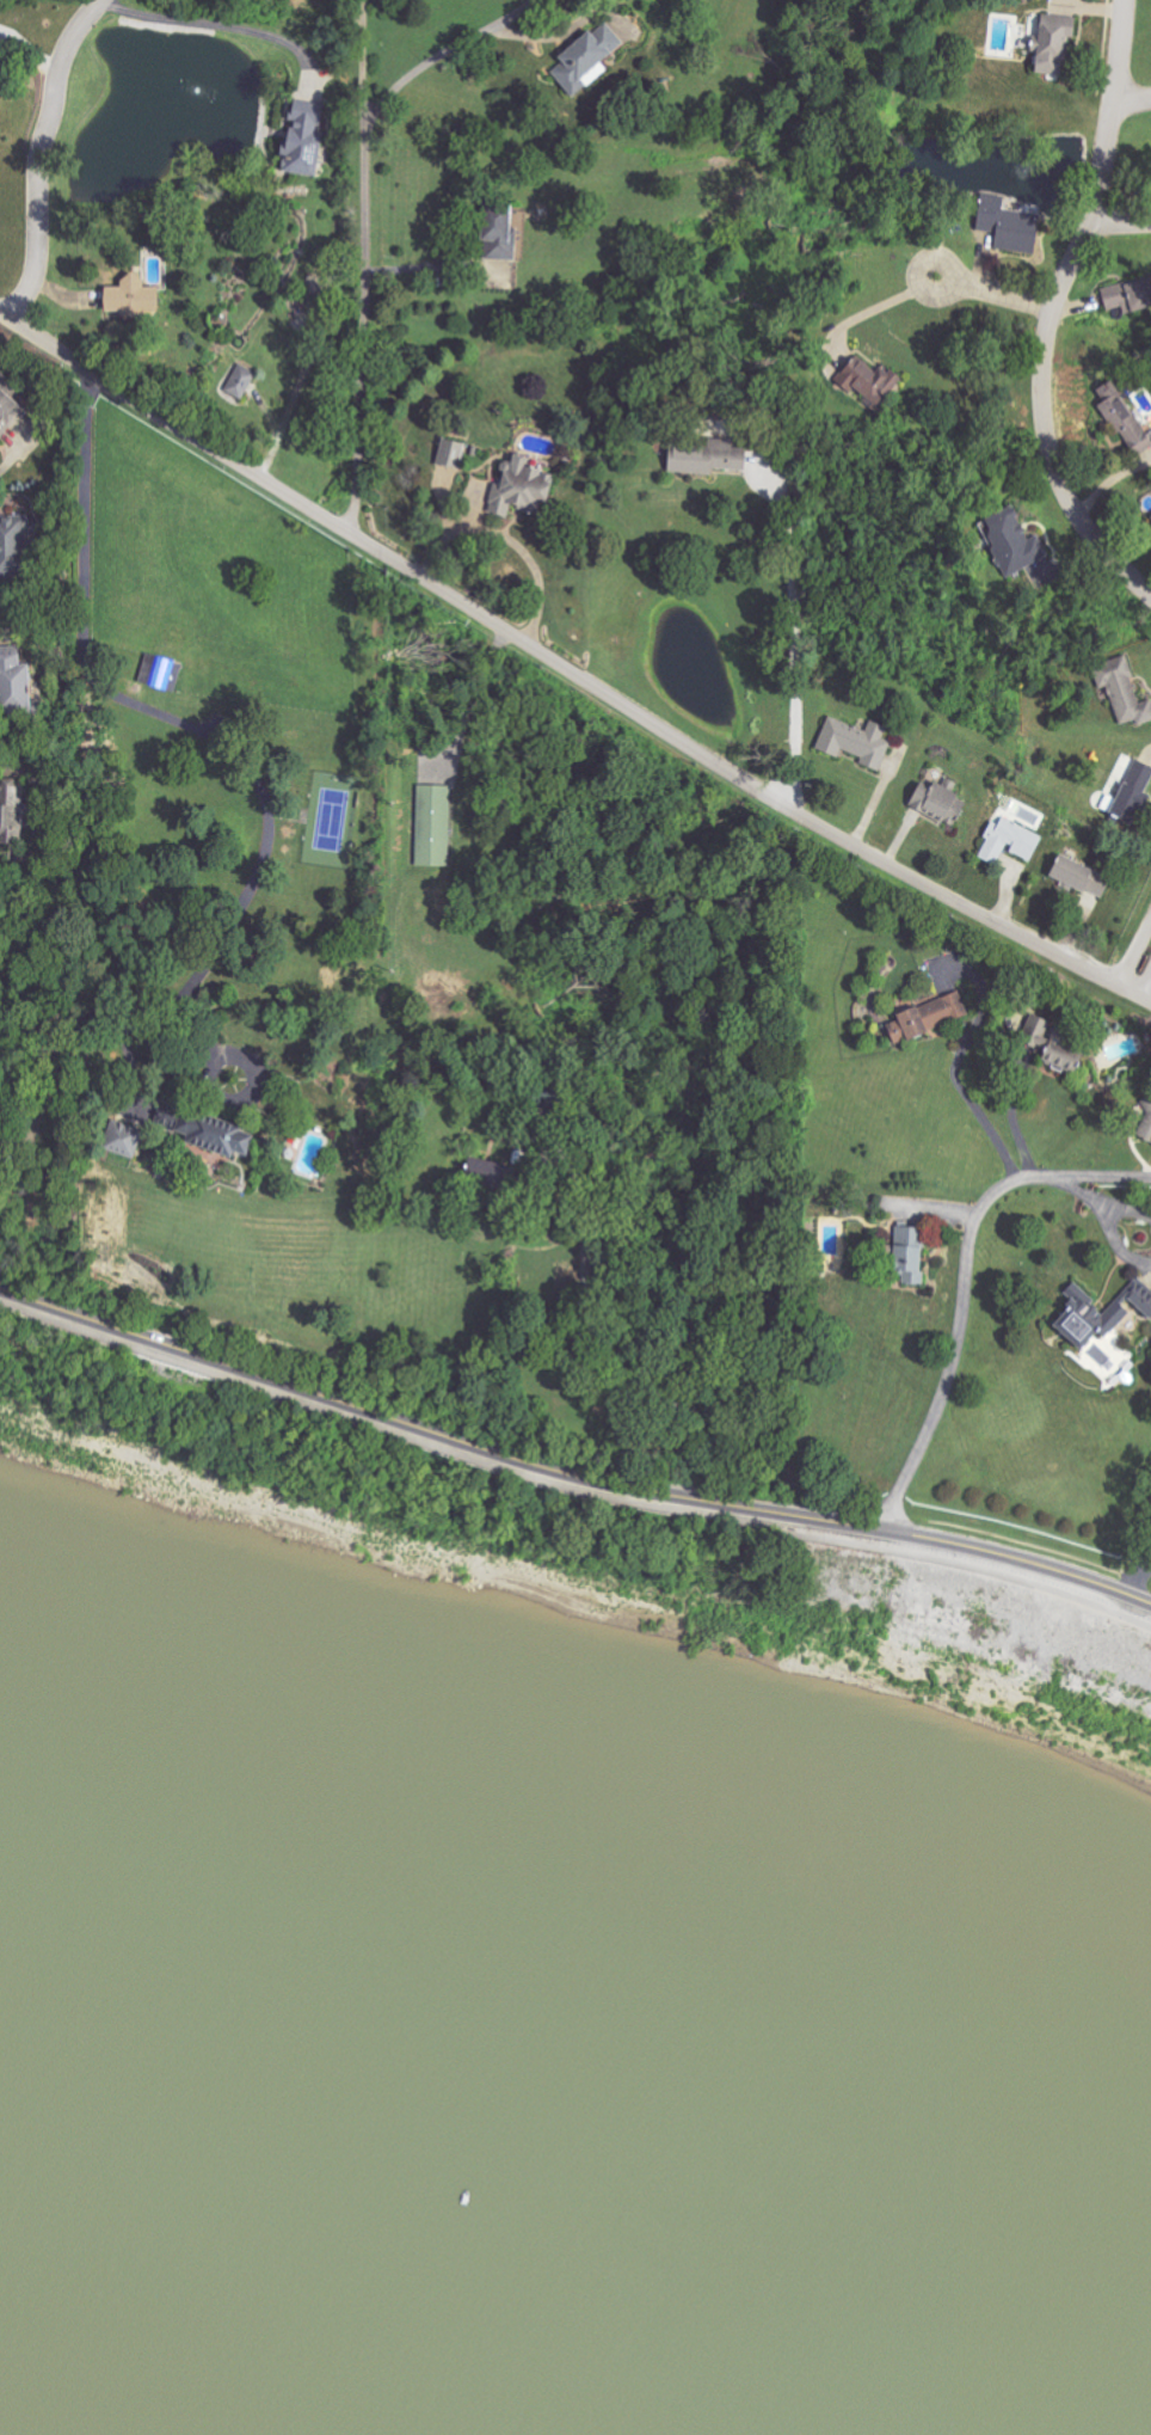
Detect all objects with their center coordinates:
road: (609, 18)
road: (549, 33)
building: (1051, 44)
road: (443, 57)
building: (584, 57)
road: (1132, 100)
building: (301, 139)
road: (42, 158)
road: (1124, 221)
building: (1005, 223)
building: (497, 232)
road: (423, 264)
road: (365, 266)
road: (996, 289)
building: (128, 298)
road: (876, 306)
road: (1053, 308)
building: (869, 379)
building: (240, 381)
building: (7, 412)
building: (1122, 417)
building: (454, 455)
building: (704, 459)
building: (515, 487)
building: (12, 539)
road: (512, 539)
road: (799, 630)
road: (568, 669)
building: (160, 673)
building: (12, 682)
building: (1122, 691)
road: (466, 697)
road: (165, 717)
building: (854, 742)
building: (1131, 793)
building: (936, 803)
building: (10, 810)
building: (433, 826)
building: (1008, 841)
building: (1078, 877)
road: (1140, 968)
building: (928, 1014)
road: (113, 1018)
building: (1050, 1045)
road: (960, 1079)
road: (234, 1097)
road: (1012, 1116)
building: (1145, 1124)
building: (209, 1134)
building: (116, 1140)
road: (1084, 1192)
road: (1130, 1210)
road: (1118, 1250)
building: (906, 1253)
road: (965, 1284)
building: (1140, 1298)
building: (1077, 1315)
building: (1113, 1320)
road: (581, 1326)
road: (568, 1472)
road: (568, 1489)
river: (575, 1921)
river: (131, 2366)

